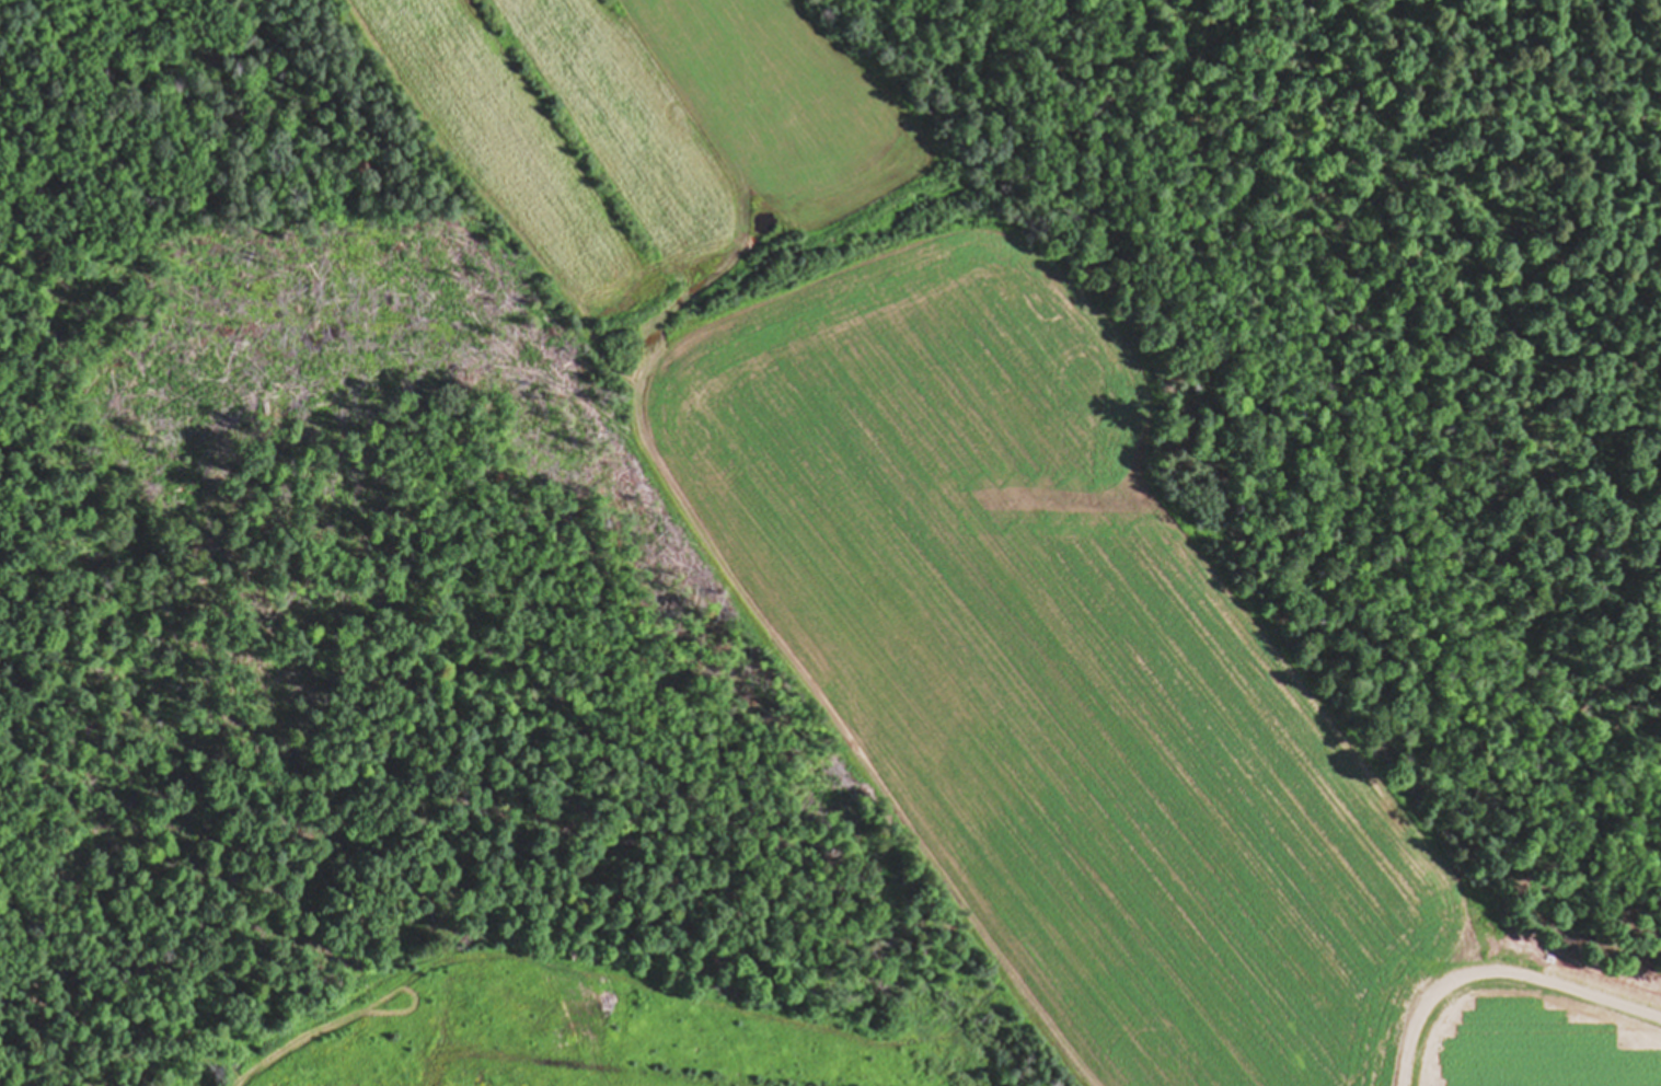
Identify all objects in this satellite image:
road: (1497, 970)

